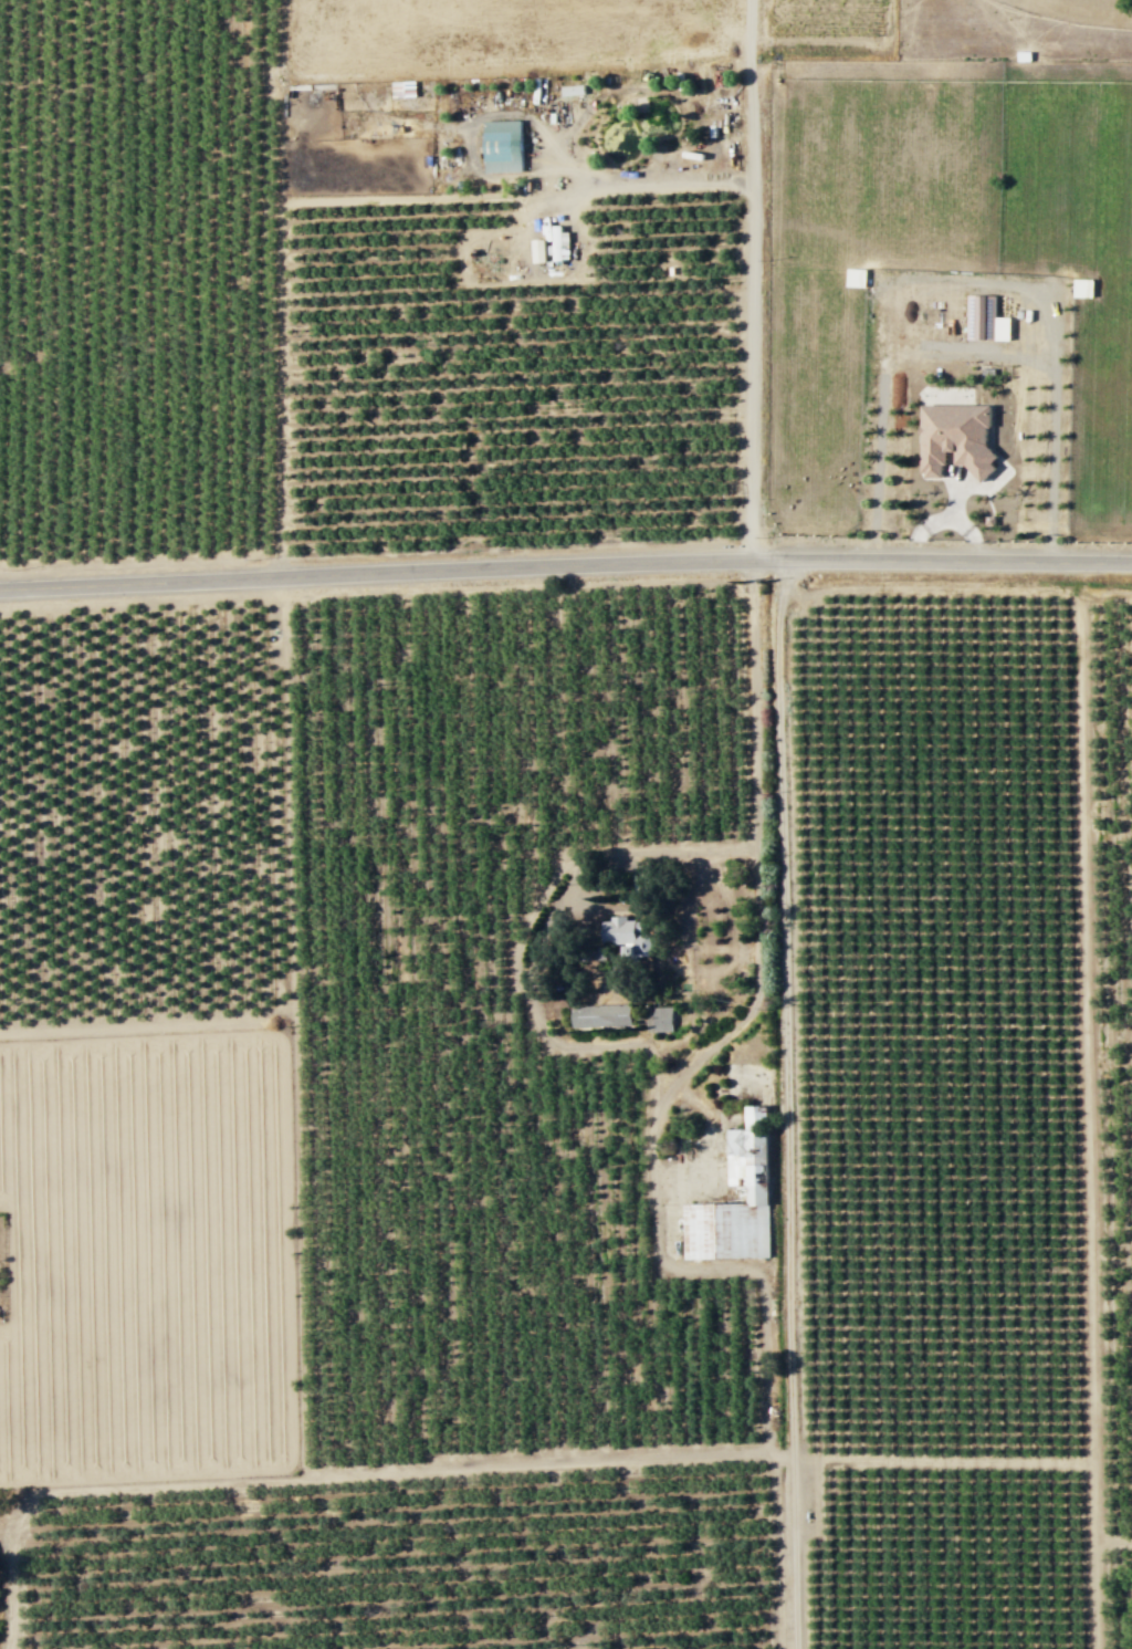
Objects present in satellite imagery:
crop: (828, 29)
building: (401, 88)
building: (501, 146)
road: (667, 185)
building: (535, 223)
building: (545, 229)
road: (280, 239)
building: (518, 241)
building: (555, 242)
crop: (944, 248)
building: (536, 251)
road: (750, 279)
building: (979, 316)
building: (954, 438)
road: (565, 565)
road: (671, 852)
road: (1086, 883)
road: (756, 905)
building: (625, 936)
building: (599, 1015)
building: (659, 1017)
road: (293, 1097)
road: (786, 1103)
building: (745, 1157)
road: (943, 1460)
road: (331, 1476)
road: (1114, 1544)
road: (1097, 1556)

